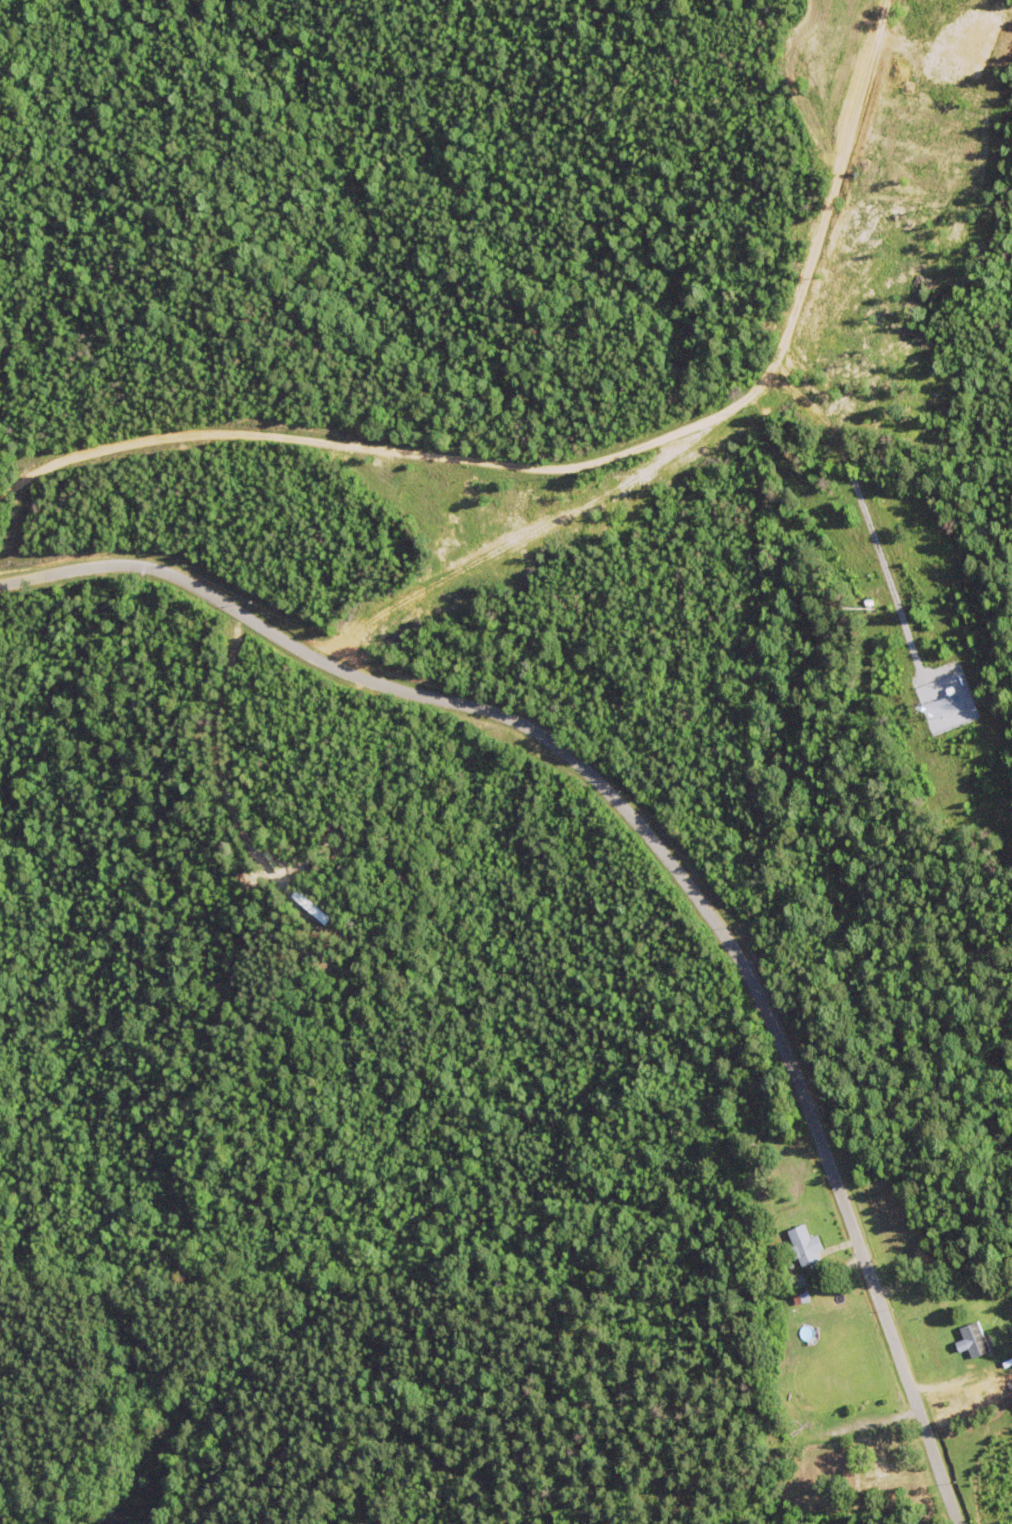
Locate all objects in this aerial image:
road: (588, 443)
road: (680, 852)
building: (804, 1245)
building: (973, 1340)
building: (877, 1457)

